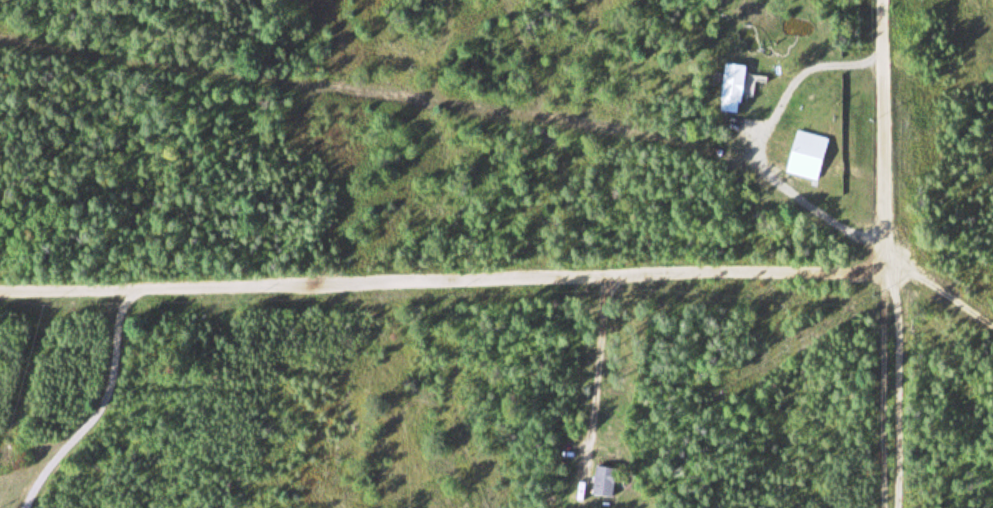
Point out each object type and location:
building: (731, 88)
road: (463, 105)
road: (893, 131)
building: (806, 154)
road: (446, 278)
road: (943, 294)
road: (886, 385)
building: (601, 483)

